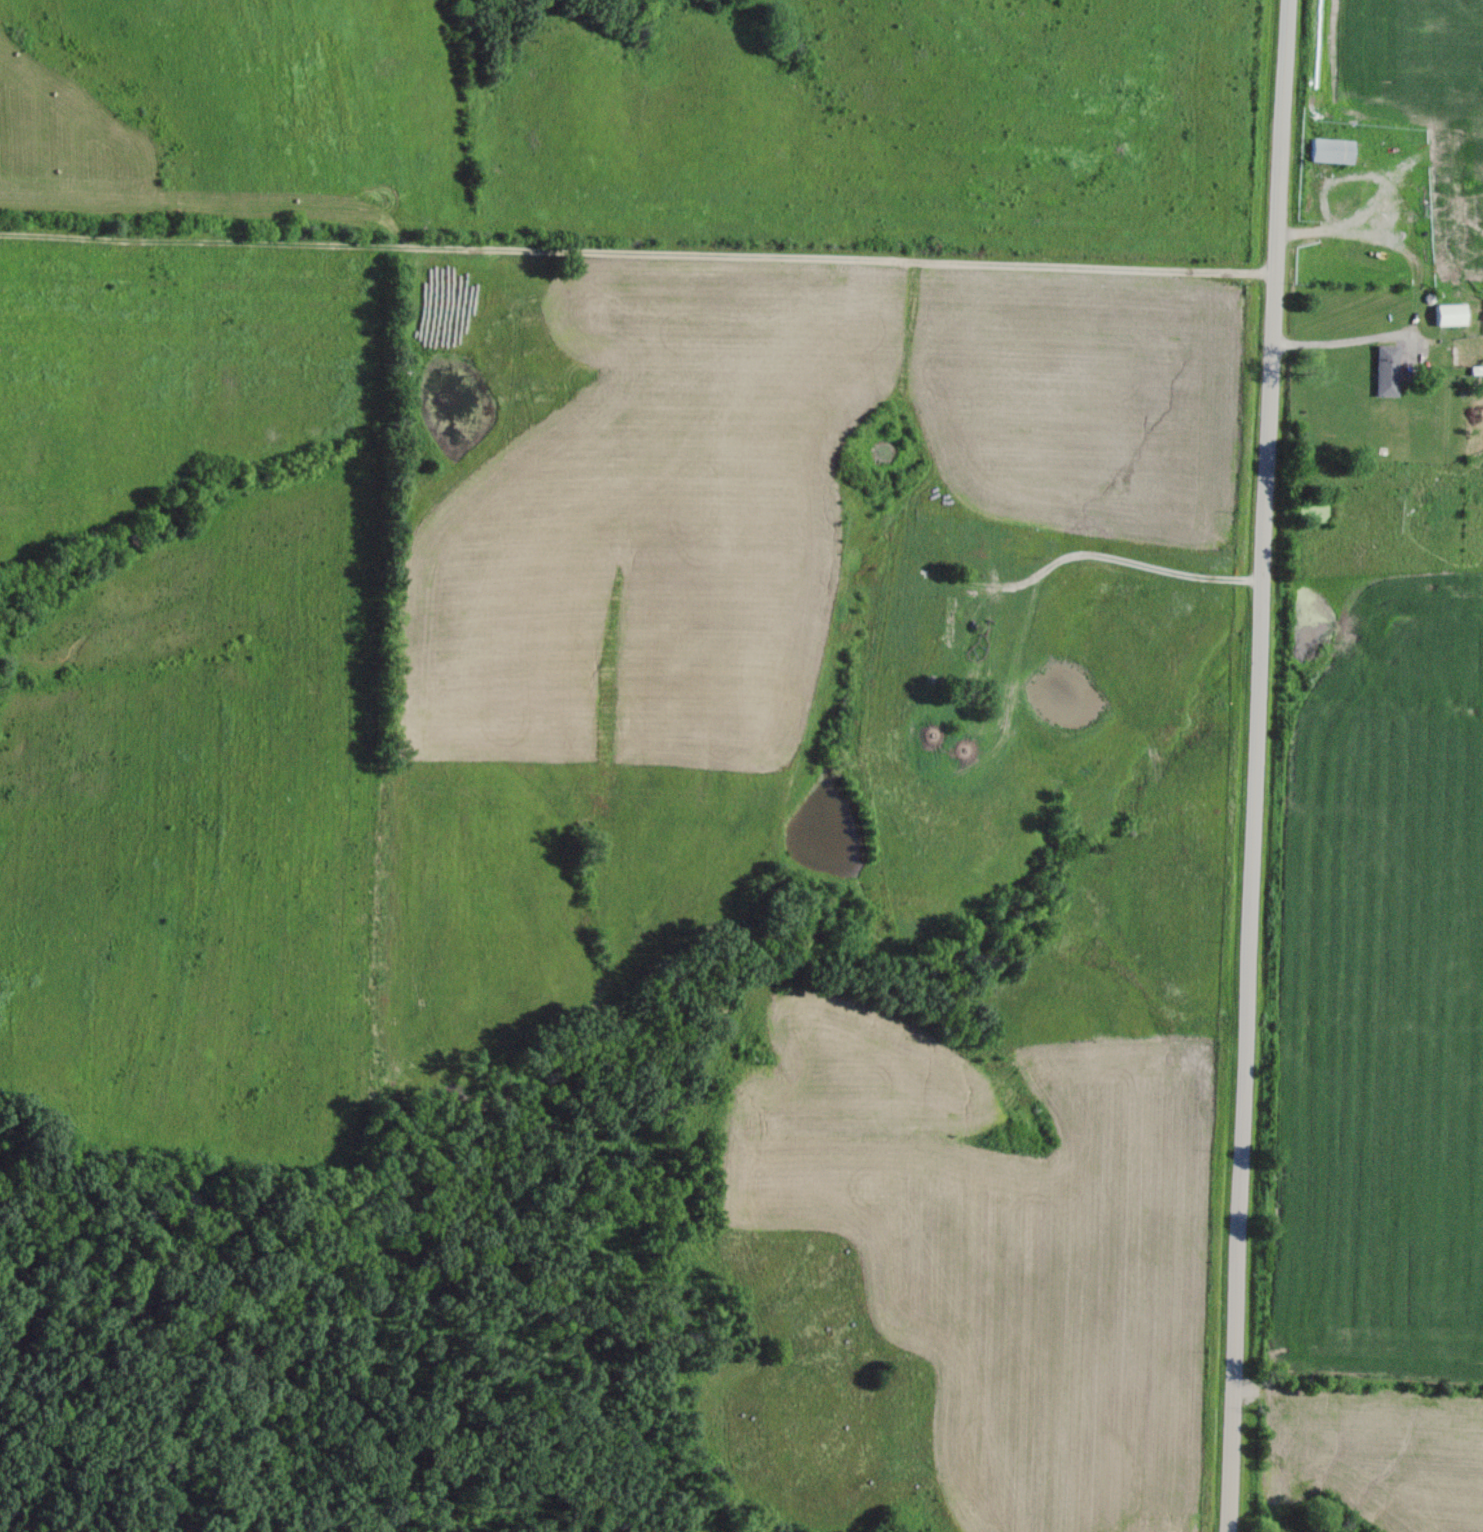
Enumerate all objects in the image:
building: (1332, 151)
road: (1345, 173)
road: (640, 252)
building: (1451, 316)
road: (1379, 335)
building: (1386, 372)
road: (1047, 567)
road: (1260, 765)

